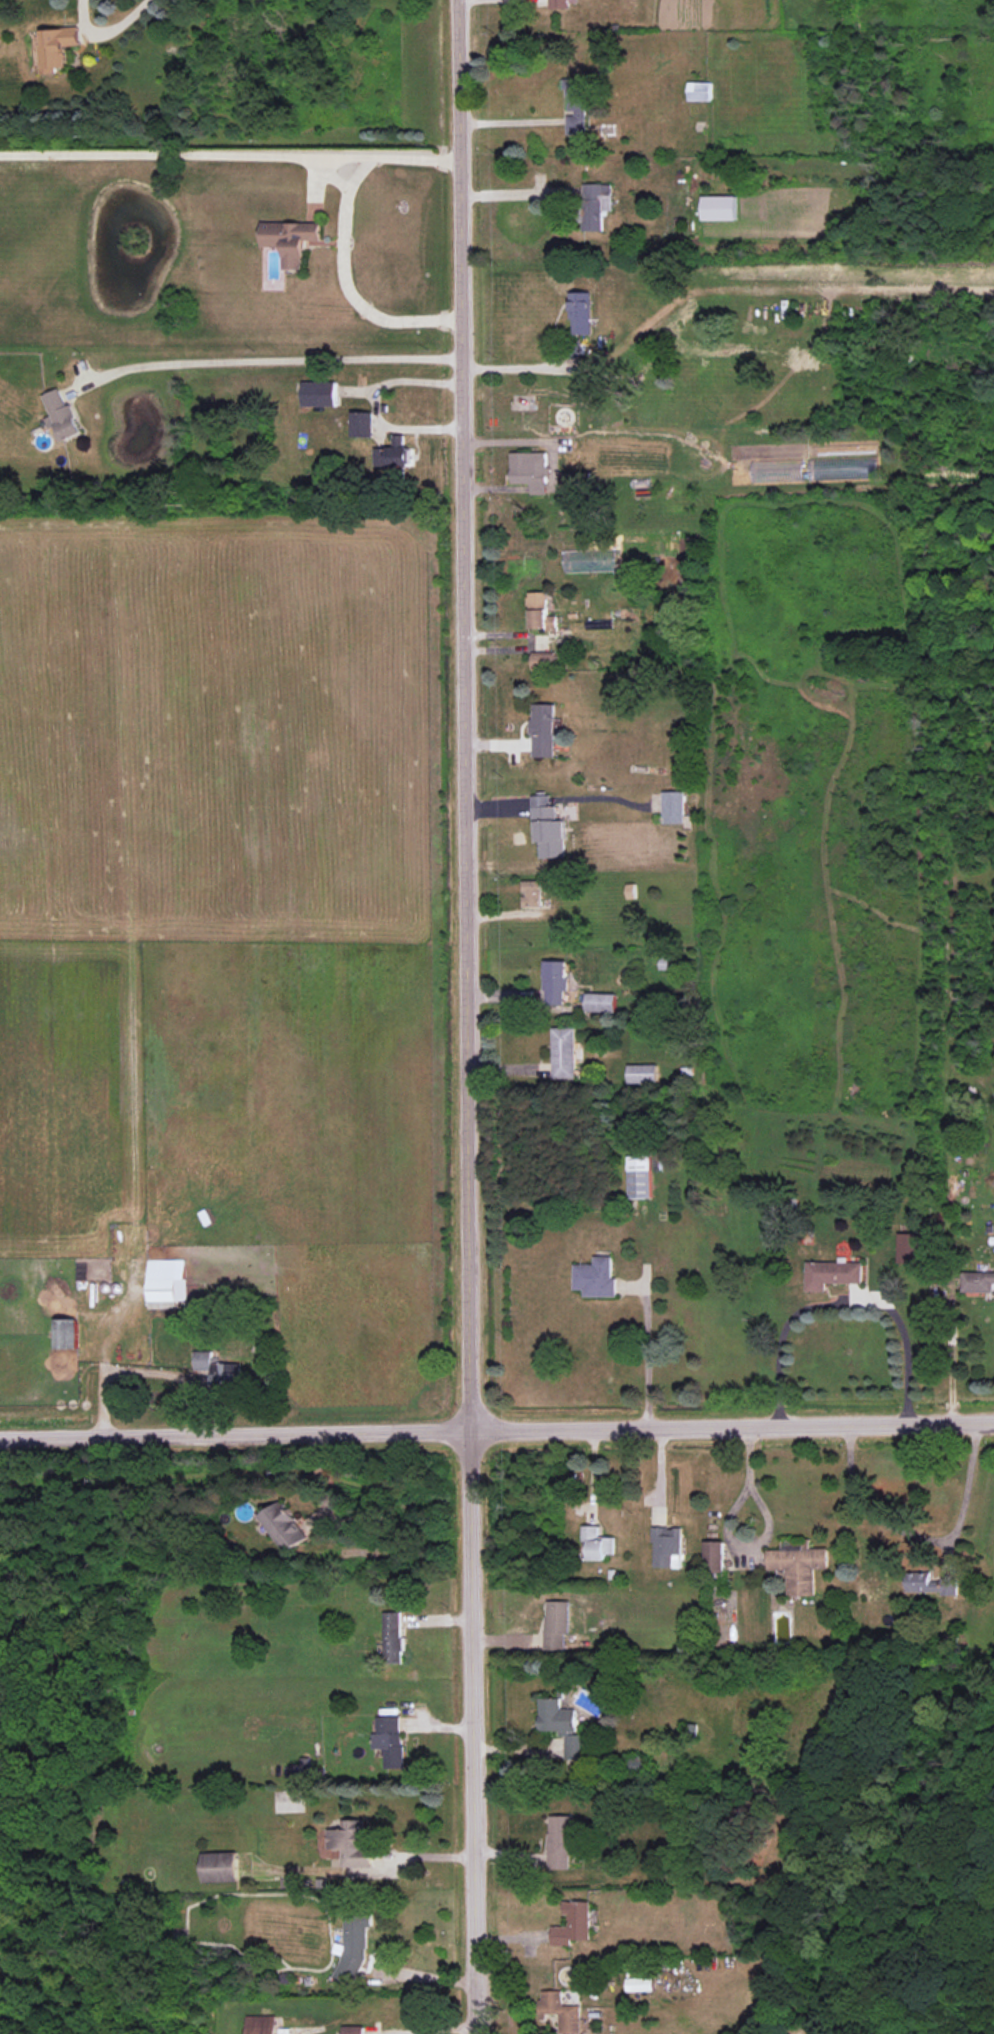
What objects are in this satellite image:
building: (558, 4)
road: (107, 31)
building: (57, 47)
building: (700, 91)
building: (576, 107)
road: (509, 121)
road: (175, 154)
road: (515, 192)
building: (596, 205)
road: (344, 235)
building: (291, 240)
building: (582, 313)
road: (517, 367)
road: (274, 368)
building: (319, 393)
road: (377, 411)
building: (61, 414)
building: (363, 424)
building: (400, 452)
building: (843, 468)
building: (530, 469)
building: (643, 488)
building: (540, 611)
road: (533, 642)
building: (544, 661)
building: (543, 729)
building: (673, 806)
building: (549, 829)
building: (531, 894)
building: (554, 982)
building: (600, 1002)
road: (467, 1016)
building: (564, 1052)
building: (642, 1073)
building: (639, 1176)
building: (910, 1247)
building: (832, 1273)
building: (596, 1277)
building: (977, 1281)
building: (166, 1282)
road: (842, 1299)
building: (66, 1333)
road: (644, 1350)
road: (105, 1351)
building: (219, 1371)
road: (176, 1375)
road: (496, 1427)
building: (284, 1526)
road: (728, 1531)
road: (917, 1535)
building: (597, 1543)
building: (667, 1547)
building: (714, 1556)
building: (798, 1565)
building: (930, 1583)
building: (556, 1625)
building: (392, 1637)
building: (562, 1726)
building: (389, 1740)
building: (560, 1841)
building: (351, 1842)
road: (423, 1857)
building: (220, 1866)
building: (573, 1924)
building: (353, 1946)
building: (639, 1984)
building: (560, 2011)
building: (260, 2024)
building: (352, 2029)
road: (441, 2029)

